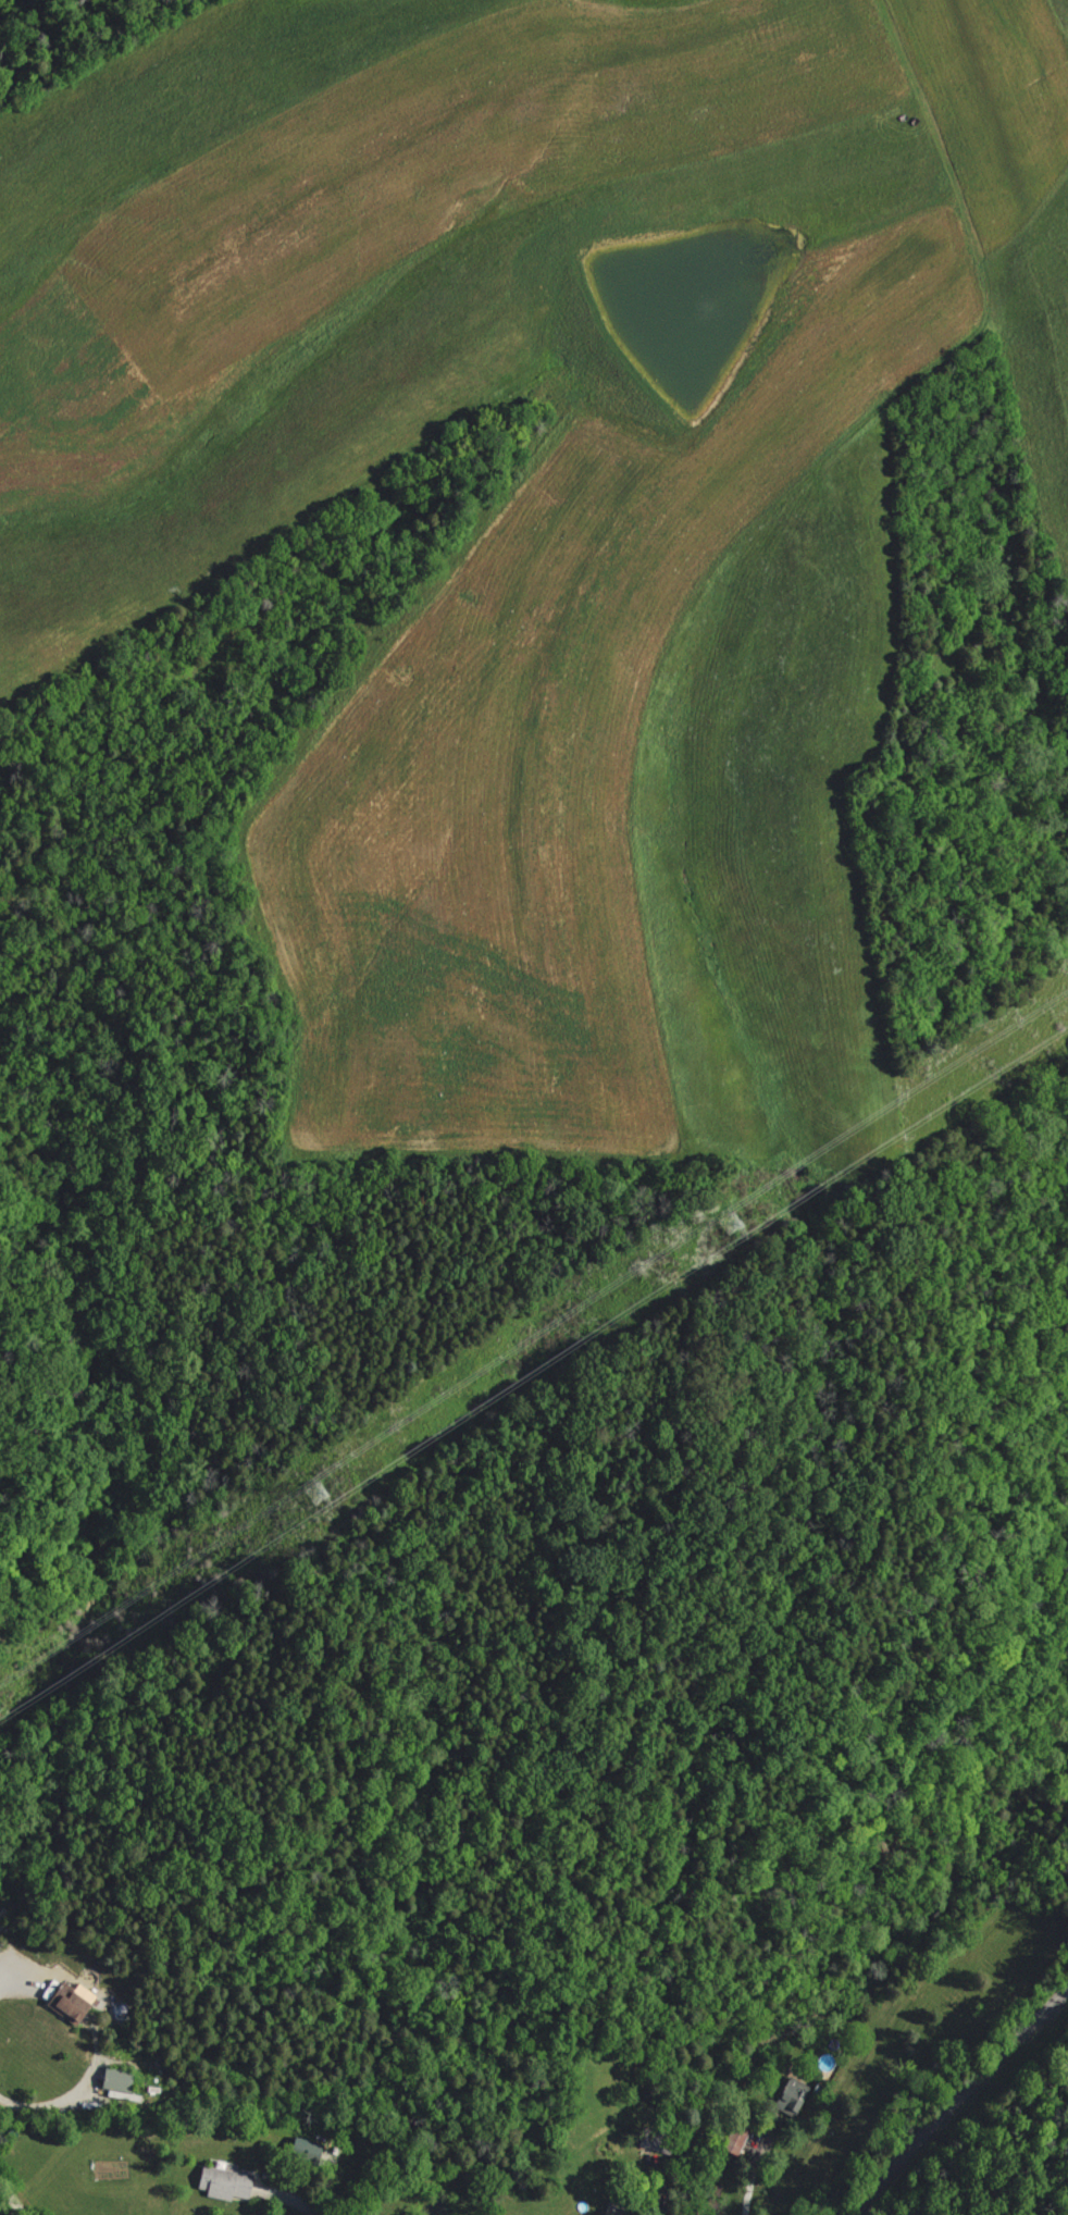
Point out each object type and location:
power tower: (731, 1221)
power tower: (318, 1493)
building: (71, 2004)
building: (115, 2087)
road: (982, 2099)
building: (657, 2141)
building: (301, 2150)
building: (220, 2182)

